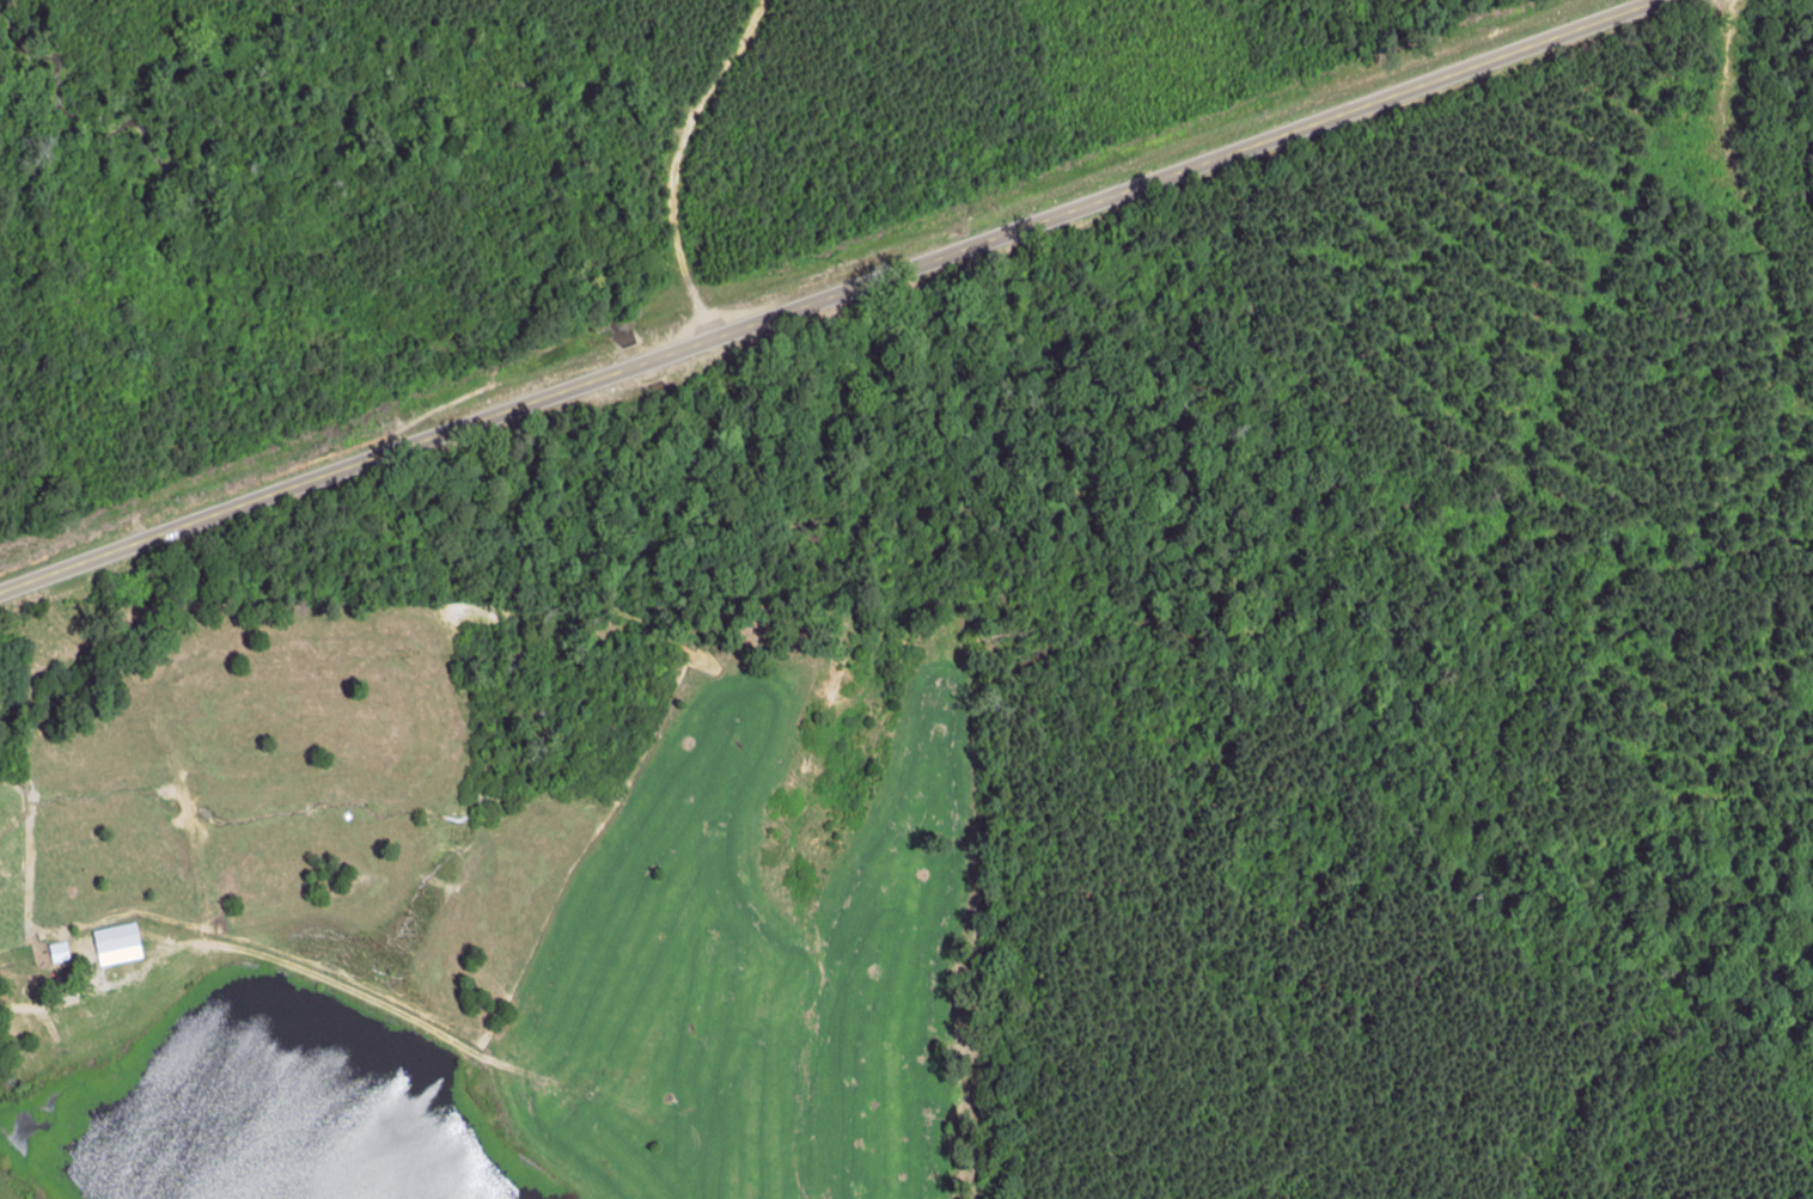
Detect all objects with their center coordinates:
road: (828, 296)
building: (116, 943)
building: (57, 952)

